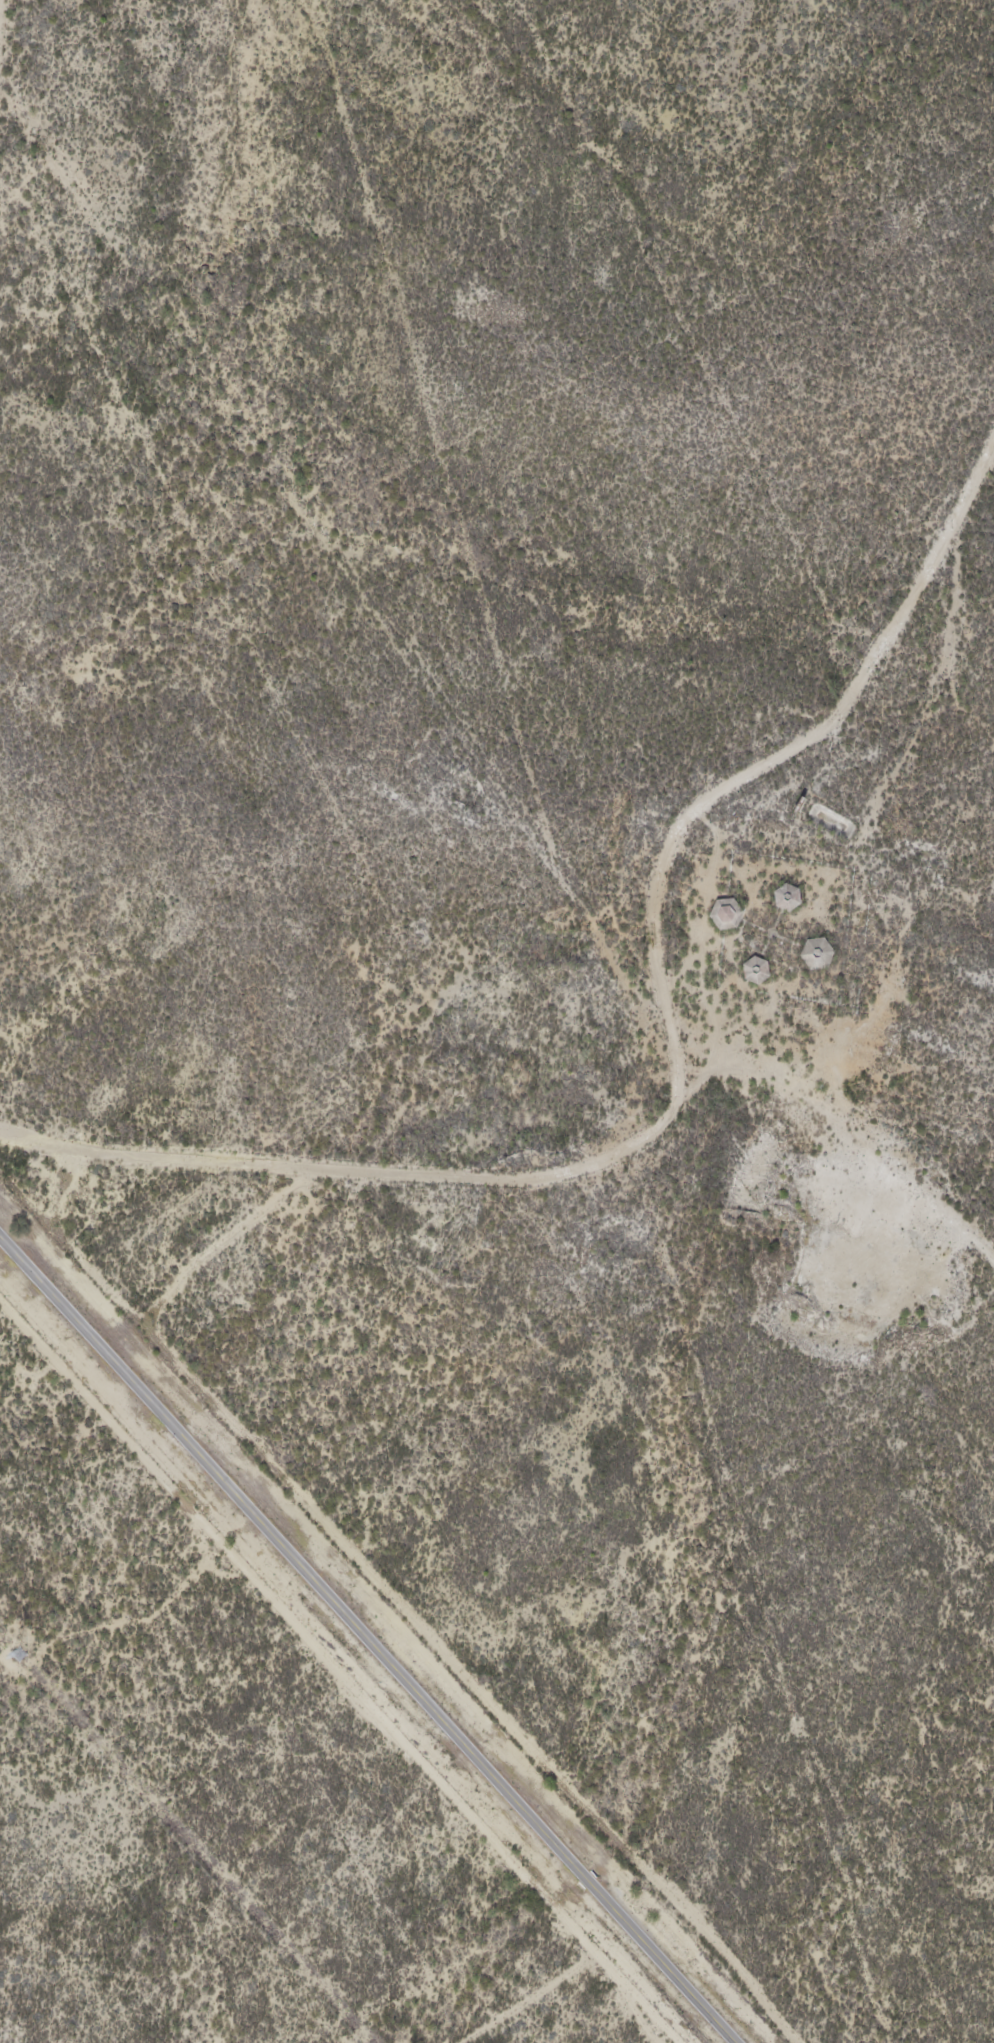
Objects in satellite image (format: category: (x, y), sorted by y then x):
power tower: (16, 1655)

